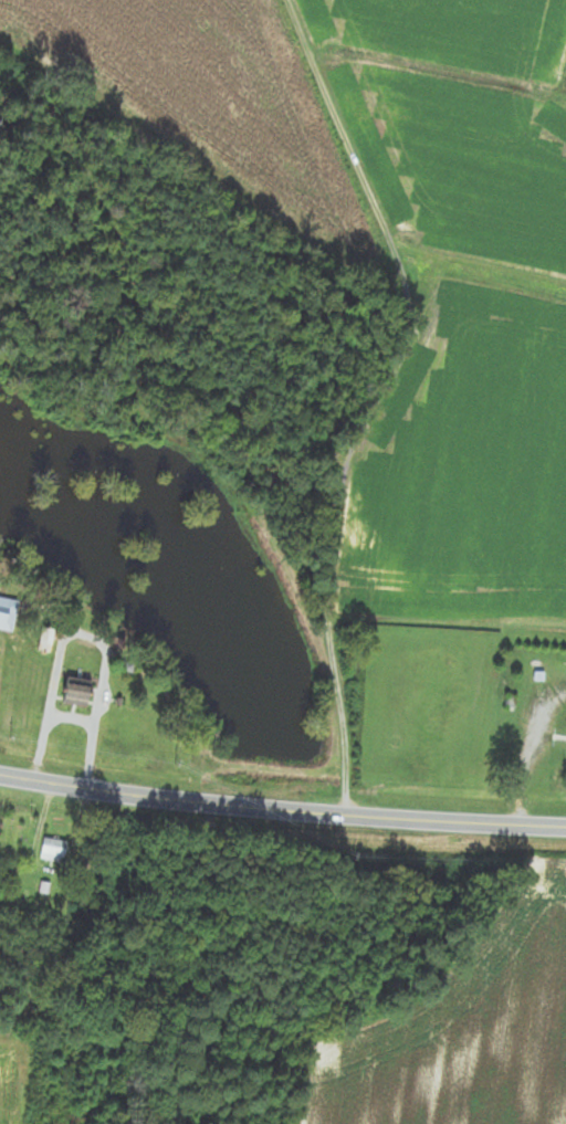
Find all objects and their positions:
road: (374, 398)
building: (8, 614)
building: (45, 641)
building: (77, 693)
road: (70, 718)
road: (282, 812)
building: (54, 850)

